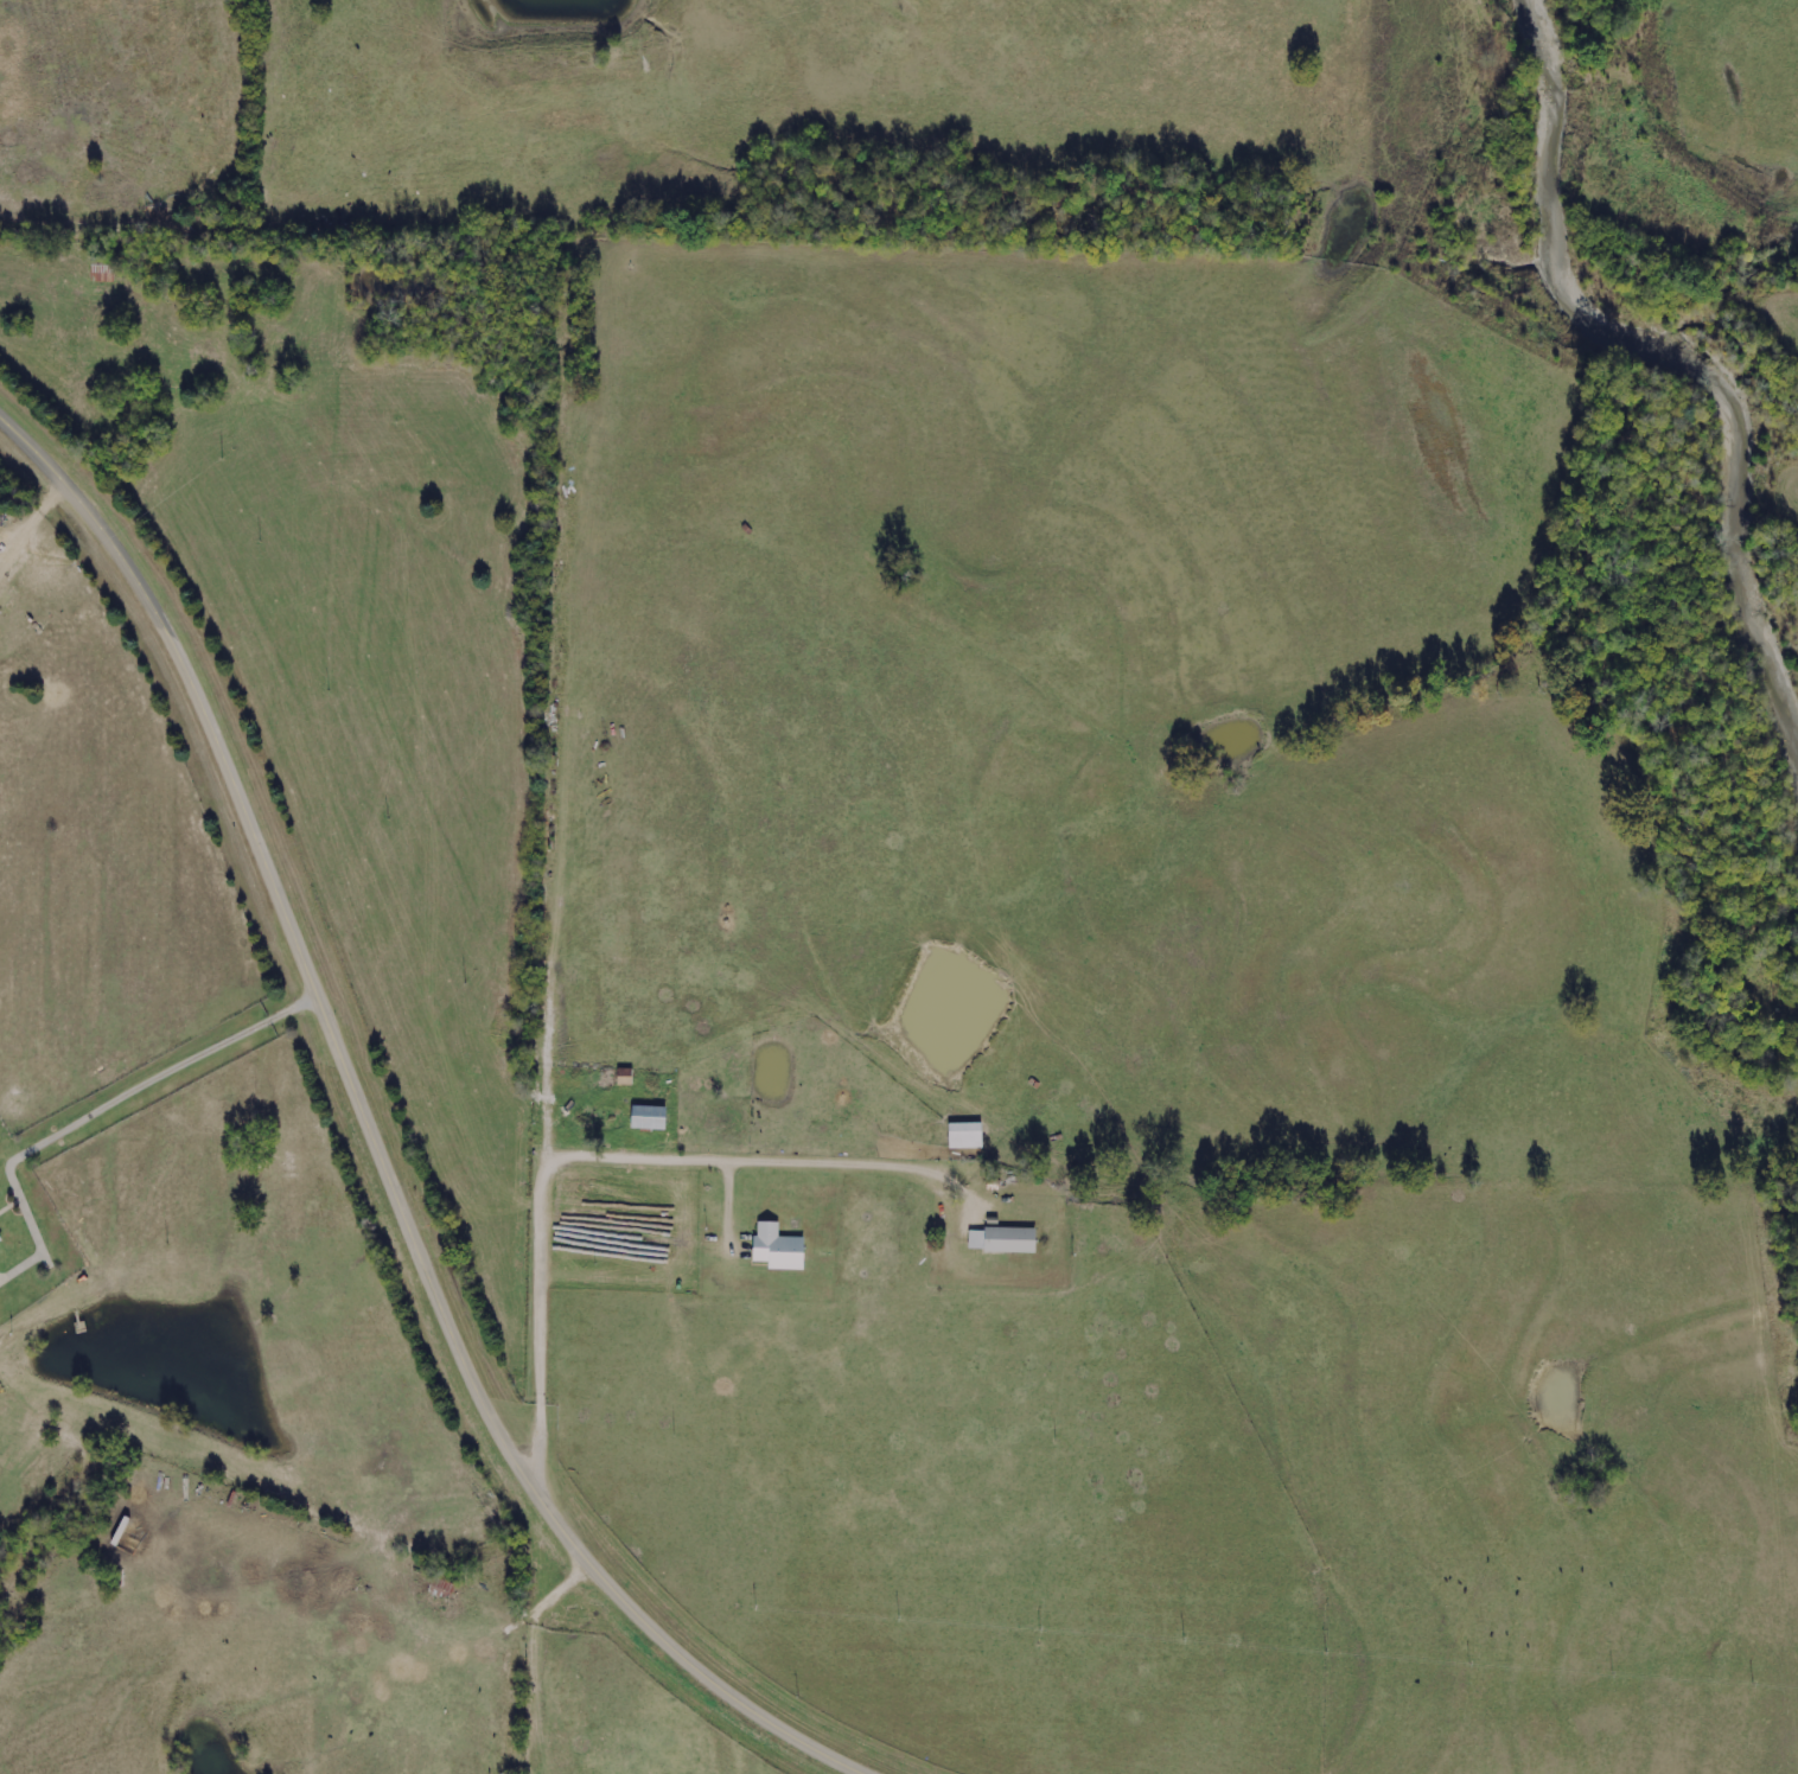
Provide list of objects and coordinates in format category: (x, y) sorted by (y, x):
road: (225, 116)
road: (554, 711)
building: (646, 1116)
building: (964, 1135)
road: (380, 1136)
building: (1002, 1239)
building: (776, 1246)
road: (528, 1652)

